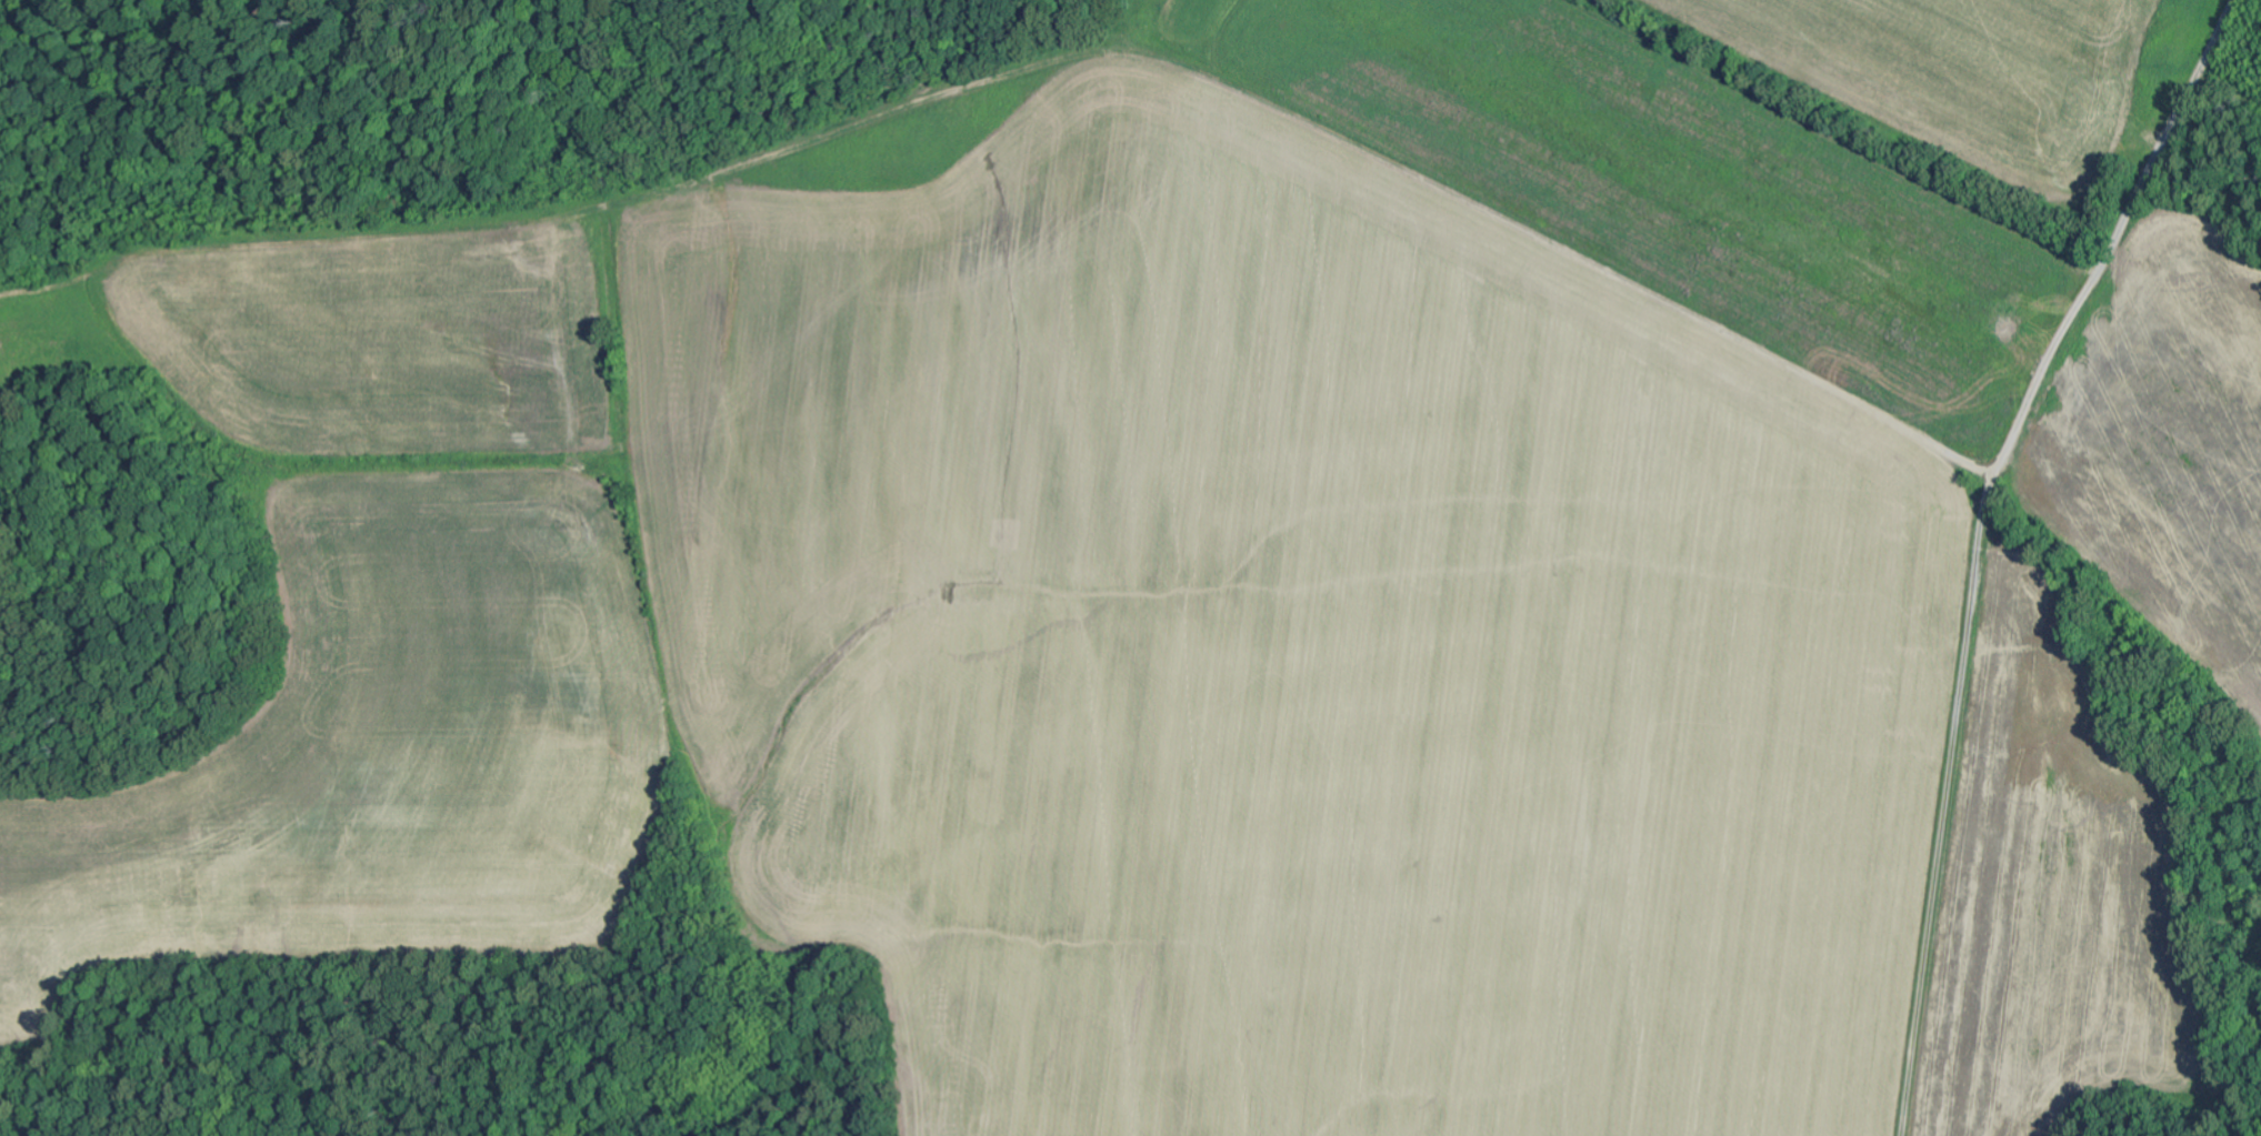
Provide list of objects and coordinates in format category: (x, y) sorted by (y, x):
road: (1981, 541)

